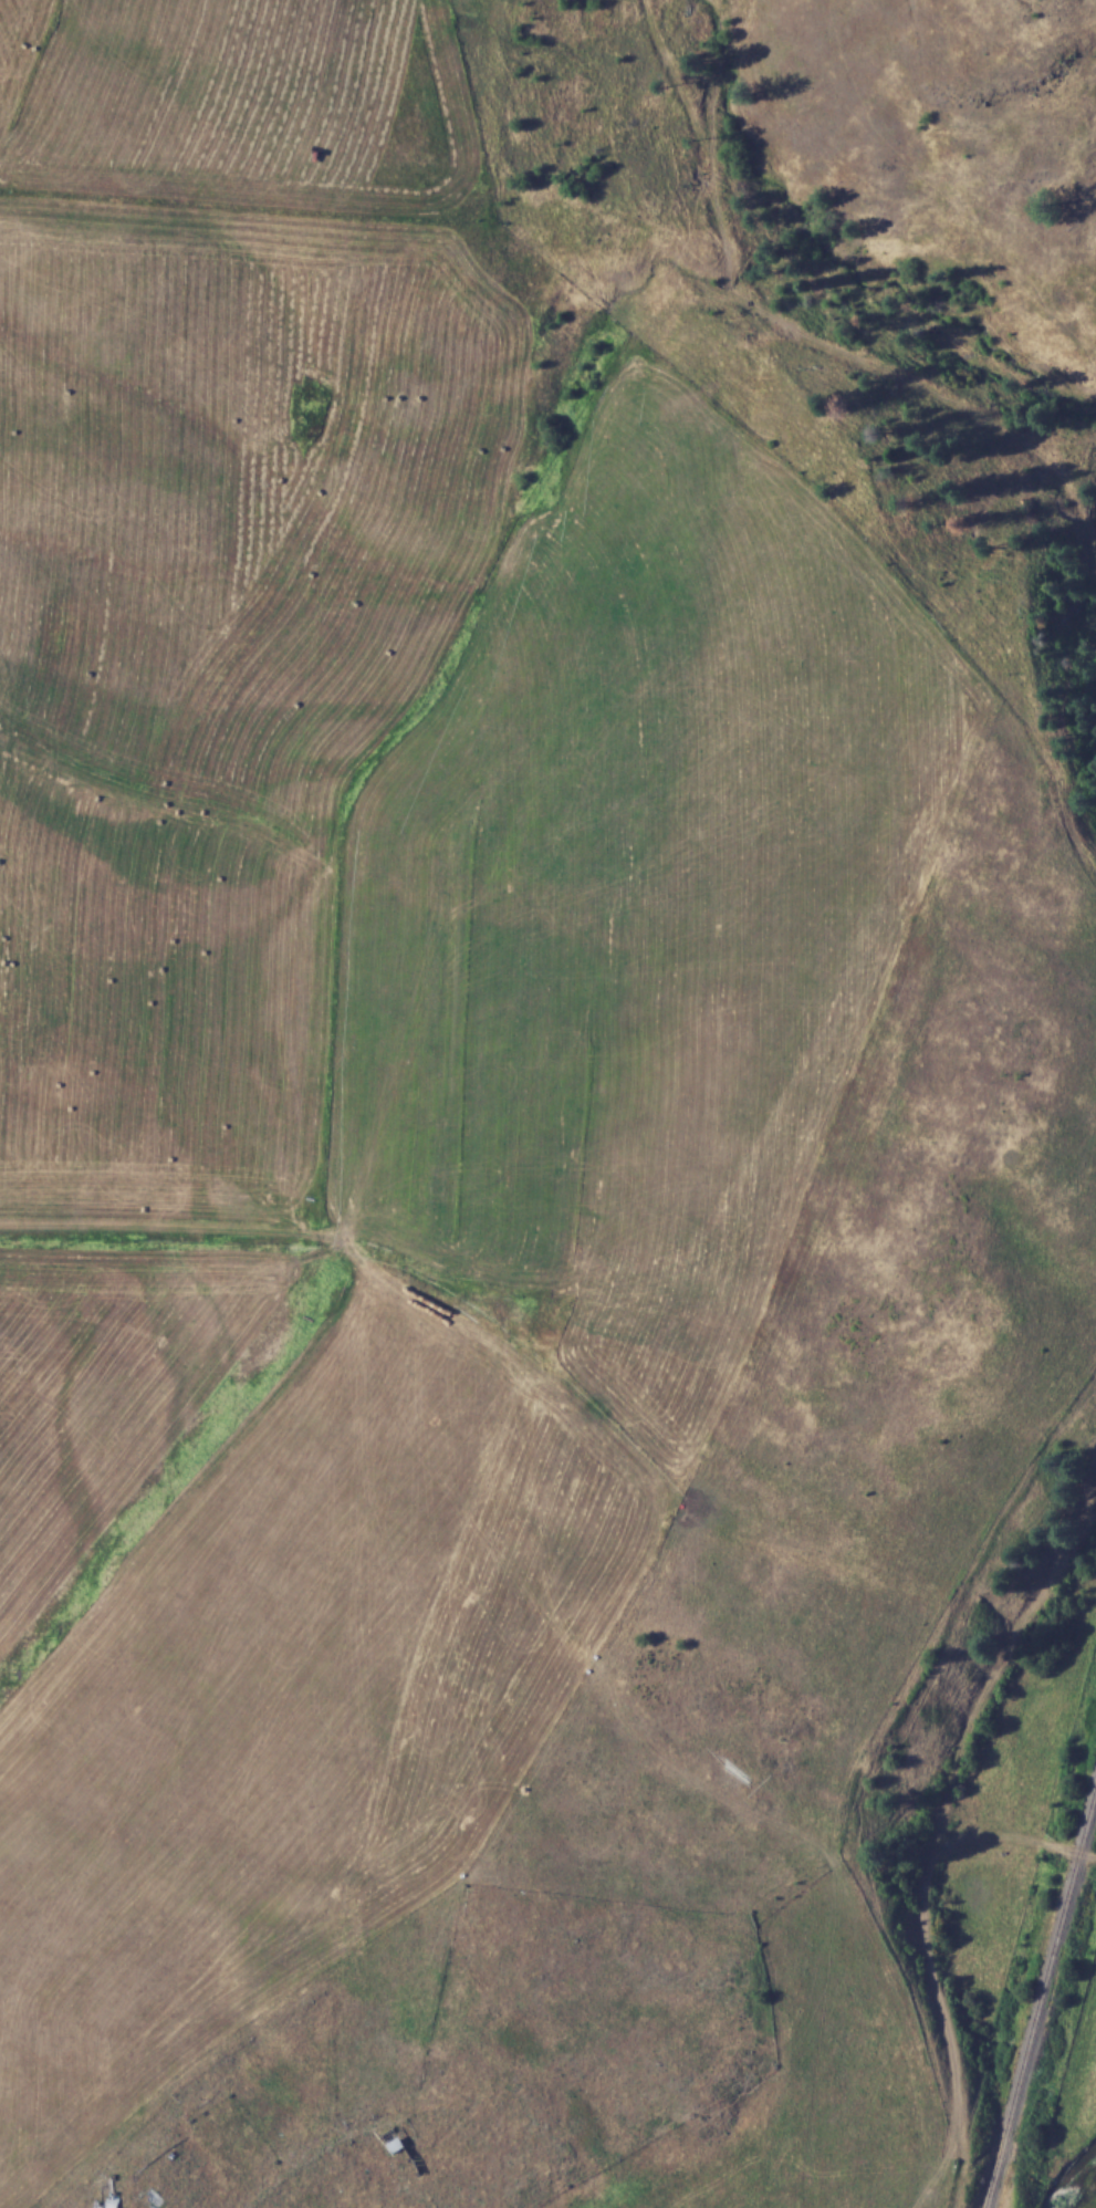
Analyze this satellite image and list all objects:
railway: (1041, 2000)
building: (397, 2144)

